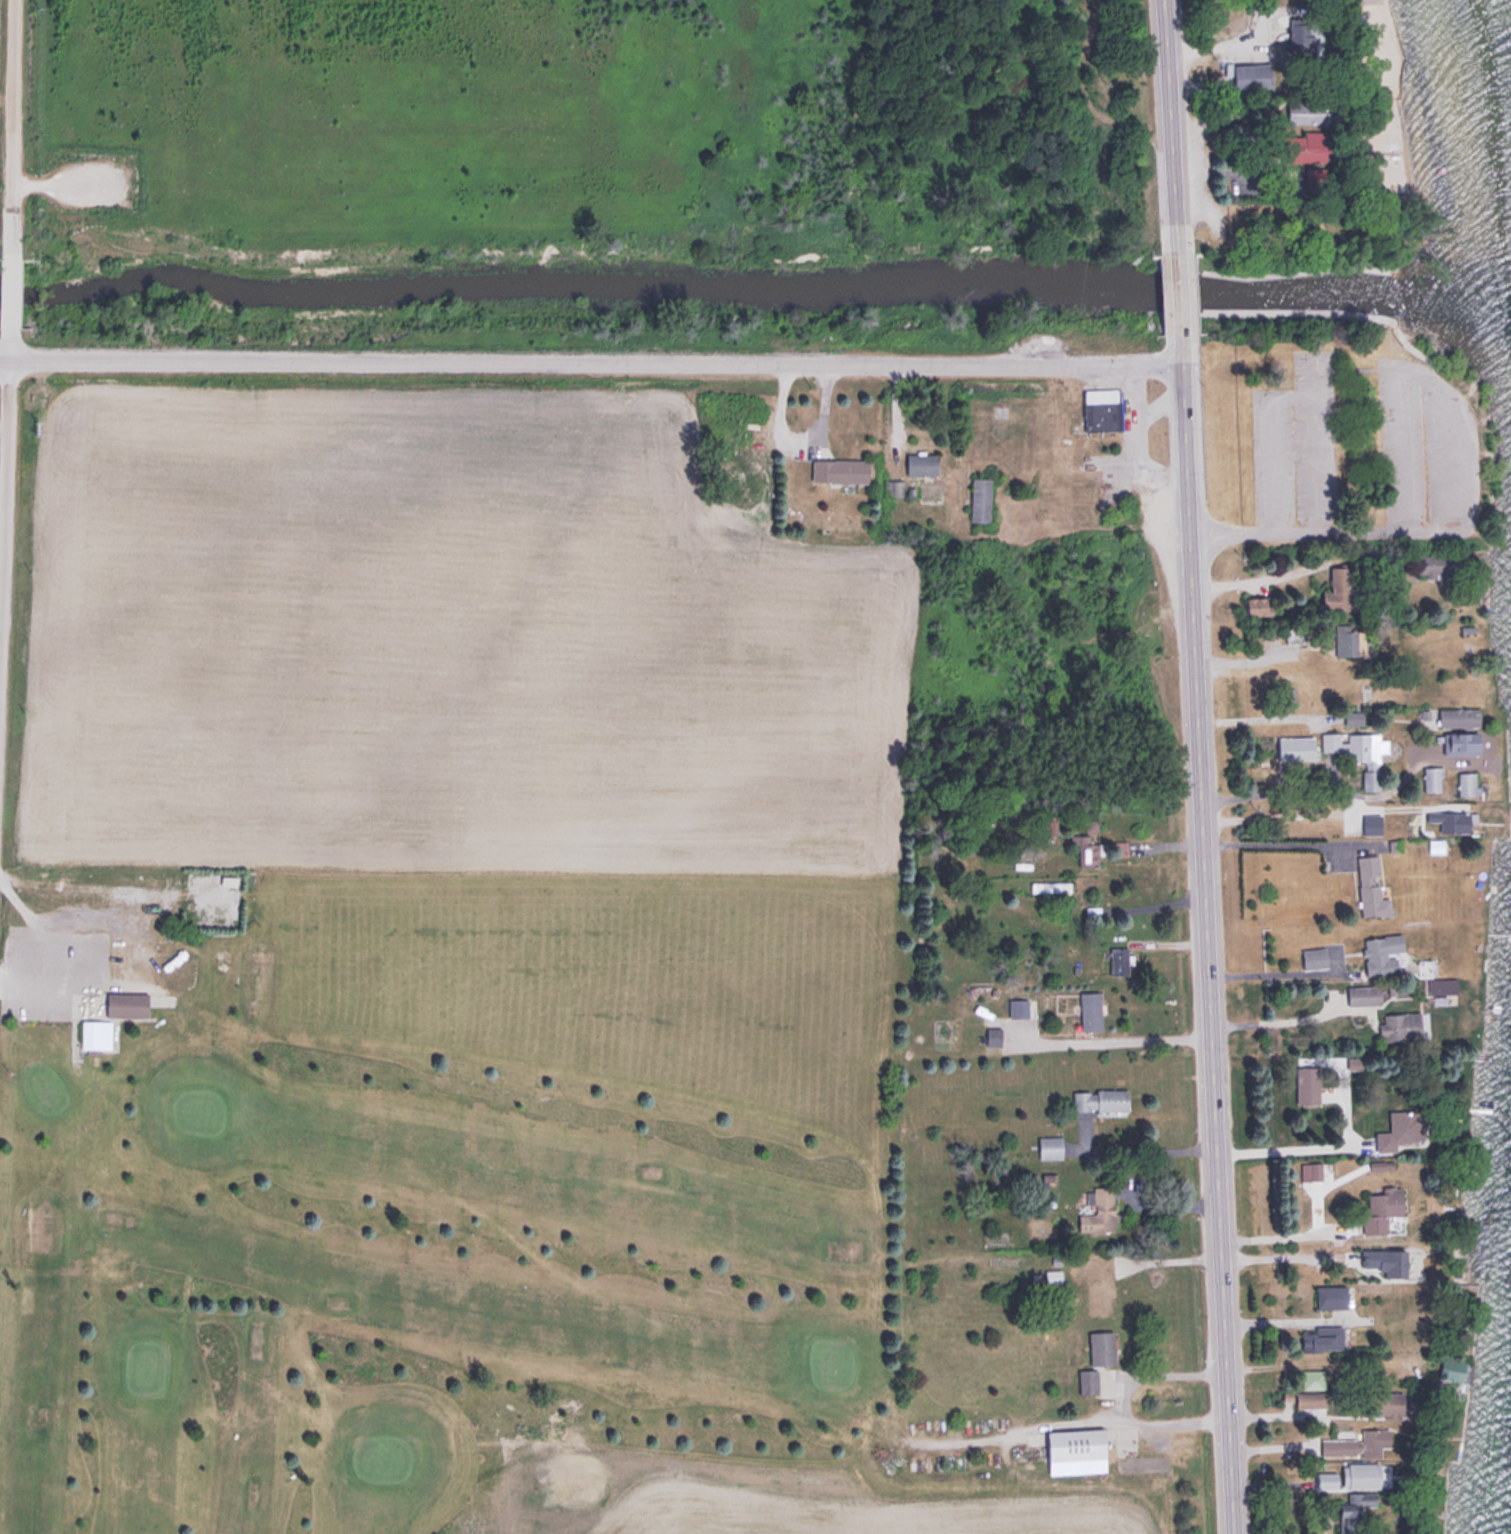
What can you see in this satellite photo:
building: (1301, 33)
building: (1254, 75)
building: (1306, 111)
road: (10, 125)
road: (1170, 128)
building: (1311, 144)
parking lot: (94, 178)
road: (1294, 268)
river: (756, 286)
road: (1201, 289)
road: (9, 290)
road: (1181, 296)
road: (1327, 310)
road: (592, 362)
building: (1103, 408)
parking lot: (1294, 440)
parking lot: (1424, 446)
road: (5, 453)
building: (922, 463)
building: (840, 469)
building: (980, 499)
road: (1330, 531)
building: (1440, 564)
building: (1340, 589)
building: (1259, 605)
building: (1294, 633)
building: (1350, 639)
building: (1350, 687)
building: (1460, 716)
building: (1463, 741)
building: (1360, 751)
building: (1432, 777)
building: (1468, 782)
building: (1452, 820)
building: (1372, 823)
building: (1091, 824)
road: (1276, 841)
building: (1436, 845)
building: (1086, 850)
building: (1371, 887)
building: (136, 927)
road: (1208, 934)
building: (1383, 952)
building: (1315, 956)
building: (1120, 960)
parking lot: (55, 964)
road: (1276, 970)
building: (1442, 984)
building: (1364, 993)
building: (128, 1003)
building: (1091, 1009)
road: (1278, 1017)
building: (1402, 1024)
building: (96, 1033)
building: (994, 1035)
road: (1137, 1035)
building: (1100, 1098)
building: (1401, 1128)
building: (1050, 1145)
building: (1098, 1207)
building: (1381, 1208)
park: (441, 1215)
road: (1281, 1233)
road: (1277, 1254)
building: (1097, 1290)
building: (1335, 1295)
building: (1322, 1337)
building: (1102, 1346)
building: (1312, 1377)
building: (1088, 1379)
building: (1311, 1398)
building: (1388, 1402)
building: (1358, 1443)
building: (1076, 1449)
building: (1354, 1468)
building: (1355, 1510)

